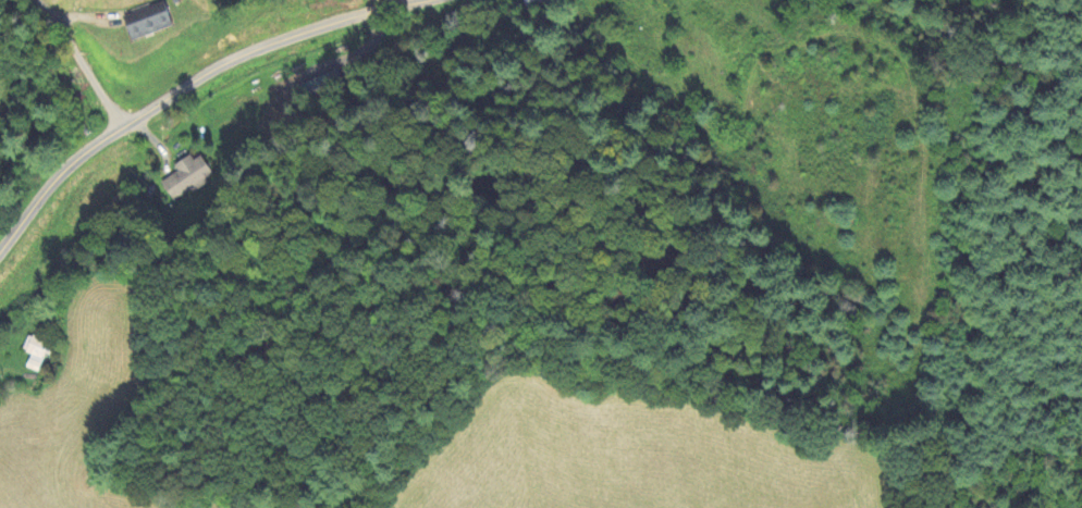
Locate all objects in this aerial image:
building: (147, 22)
road: (187, 88)
building: (186, 177)
building: (37, 352)

